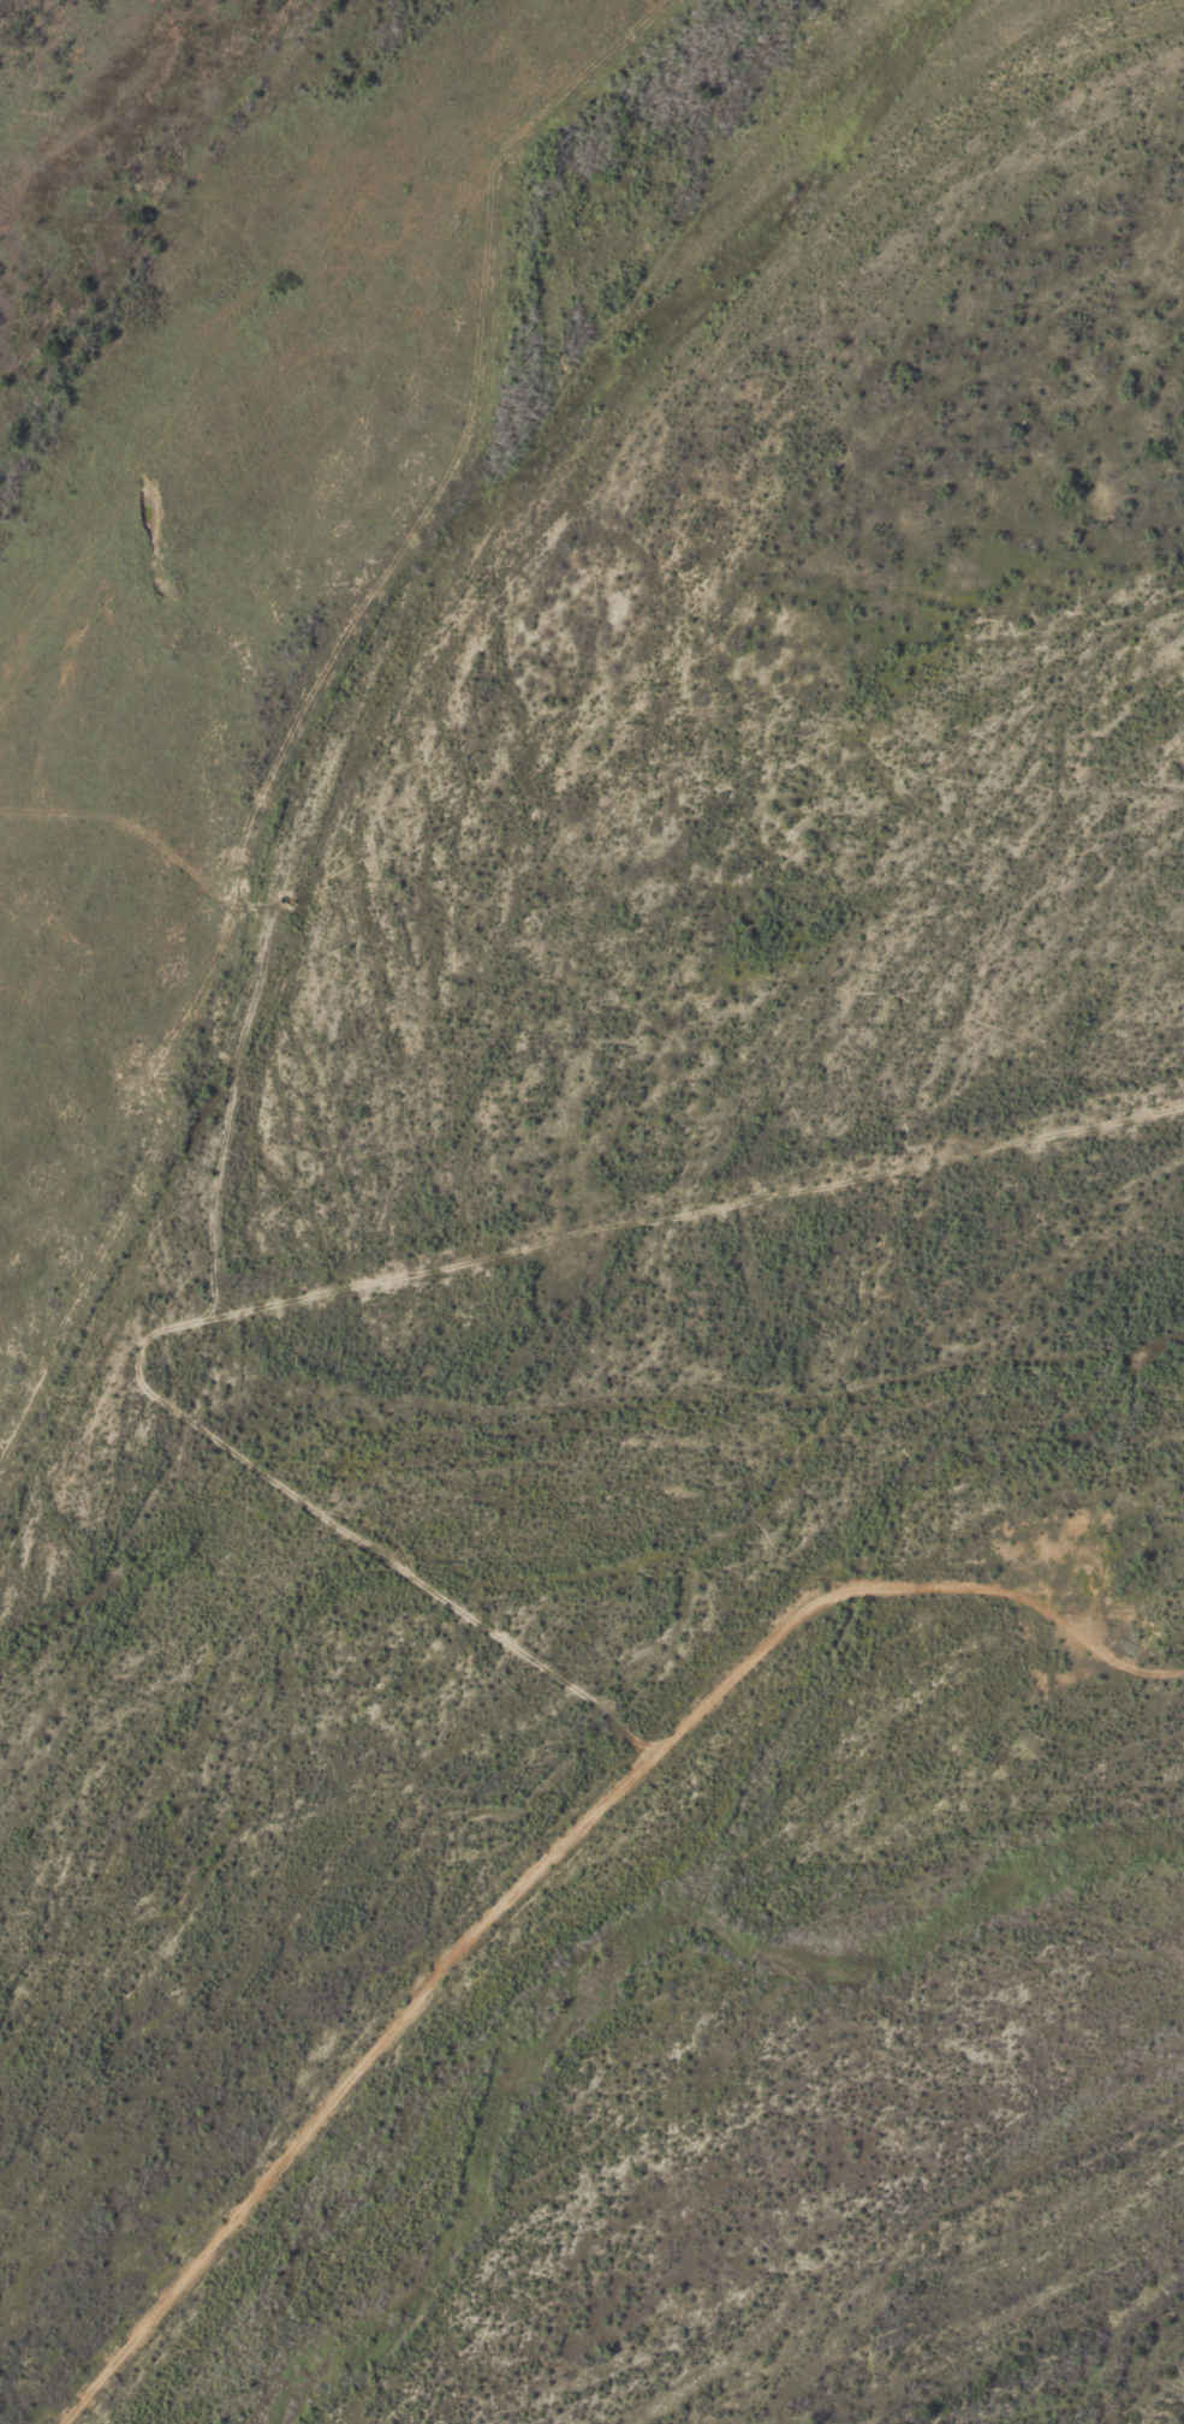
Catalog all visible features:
river: (626, 1959)

